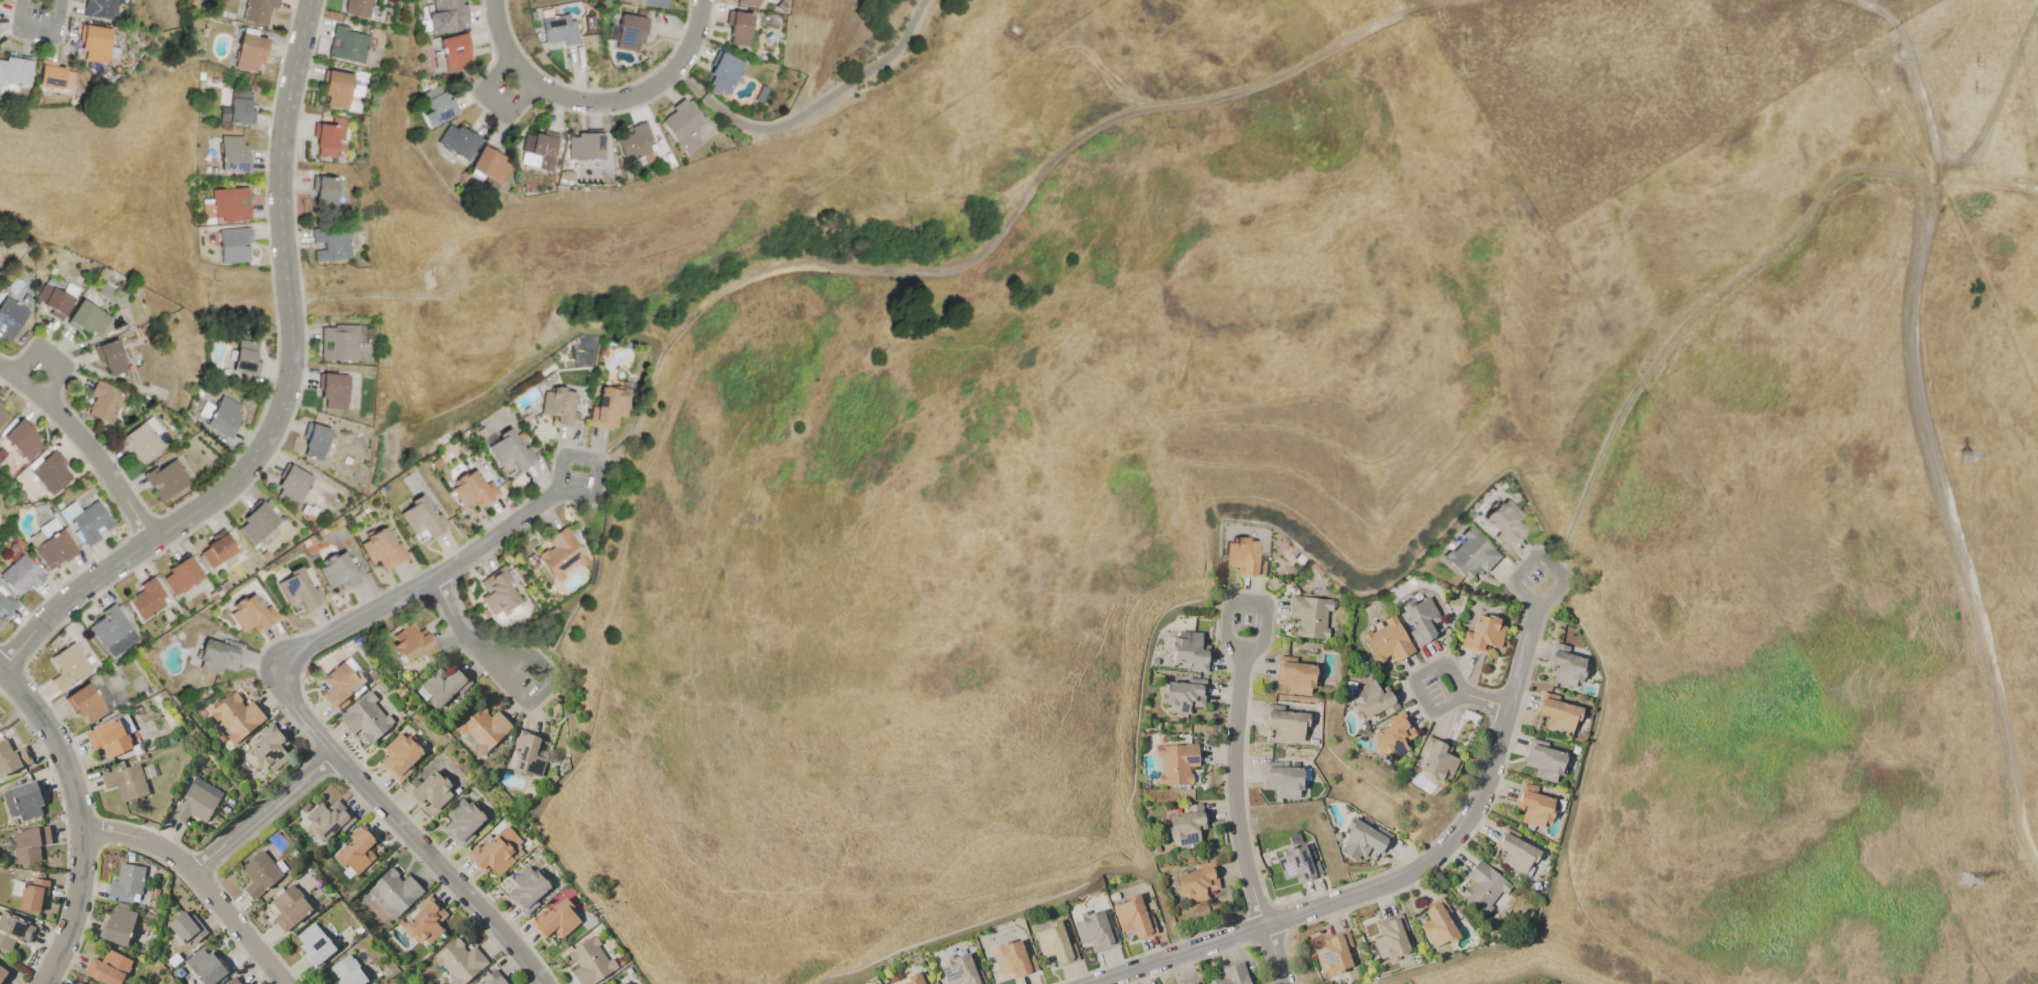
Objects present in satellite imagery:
road: (1433, 1)
building: (655, 3)
building: (748, 3)
building: (356, 7)
building: (100, 9)
building: (257, 10)
building: (446, 16)
building: (739, 29)
road: (38, 30)
building: (558, 30)
building: (629, 32)
building: (93, 43)
building: (348, 45)
building: (250, 52)
building: (454, 52)
power tower: (1979, 63)
building: (14, 71)
building: (723, 71)
road: (1917, 75)
building: (53, 76)
crop: (1637, 79)
building: (337, 88)
power tower: (1978, 91)
road: (598, 98)
road: (496, 102)
building: (240, 107)
road: (812, 107)
building: (438, 108)
building: (683, 126)
building: (330, 136)
building: (457, 141)
building: (634, 141)
building: (585, 146)
building: (539, 147)
building: (233, 153)
building: (489, 164)
road: (1990, 185)
building: (324, 196)
building: (227, 204)
road: (1017, 221)
building: (233, 244)
building: (330, 245)
building: (56, 300)
road: (1696, 315)
building: (10, 317)
building: (89, 318)
building: (339, 342)
road: (53, 357)
building: (112, 358)
building: (246, 358)
building: (333, 391)
road: (285, 397)
building: (104, 402)
building: (1, 404)
building: (610, 405)
building: (560, 407)
building: (2, 416)
building: (221, 416)
road: (1930, 426)
building: (22, 439)
building: (315, 440)
road: (87, 442)
building: (141, 442)
building: (508, 450)
power tower: (1966, 457)
road: (606, 466)
building: (51, 473)
building: (167, 479)
building: (291, 485)
building: (473, 490)
building: (421, 518)
building: (88, 521)
building: (257, 523)
building: (1505, 523)
building: (49, 528)
building: (54, 549)
building: (382, 549)
building: (217, 550)
building: (561, 554)
building: (1470, 555)
road: (1540, 556)
building: (1244, 557)
building: (340, 571)
building: (20, 575)
building: (181, 576)
building: (299, 591)
building: (498, 593)
building: (147, 599)
road: (1248, 603)
building: (5, 605)
building: (251, 614)
building: (1311, 615)
building: (1422, 620)
building: (112, 631)
building: (1482, 634)
building: (1386, 641)
building: (412, 643)
building: (1189, 650)
building: (219, 656)
building: (1564, 665)
building: (68, 666)
road: (0, 670)
building: (1293, 674)
road: (1416, 681)
building: (342, 684)
building: (439, 686)
road: (512, 688)
building: (1183, 695)
road: (1485, 698)
building: (1372, 699)
building: (86, 703)
road: (295, 709)
building: (1556, 714)
building: (235, 716)
building: (0, 717)
building: (364, 718)
building: (1286, 721)
building: (482, 727)
building: (110, 736)
building: (1393, 736)
building: (269, 748)
building: (527, 754)
building: (398, 756)
building: (11, 757)
building: (1543, 760)
building: (1436, 761)
building: (1175, 762)
building: (1281, 779)
building: (125, 782)
road: (1235, 789)
building: (427, 790)
building: (26, 799)
building: (195, 801)
building: (1533, 805)
road: (264, 814)
road: (80, 818)
building: (326, 818)
building: (461, 822)
road: (1462, 822)
building: (1188, 828)
building: (1360, 840)
building: (28, 843)
building: (355, 850)
building: (495, 851)
building: (1515, 852)
building: (1297, 862)
building: (258, 873)
road: (200, 879)
power tower: (1963, 879)
building: (1196, 881)
building: (125, 883)
building: (1482, 887)
building: (526, 889)
building: (393, 892)
building: (31, 894)
building: (288, 907)
building: (1131, 916)
building: (425, 920)
building: (555, 920)
building: (117, 924)
building: (1436, 924)
building: (184, 928)
building: (12, 931)
building: (1094, 931)
building: (1389, 936)
building: (312, 943)
building: (1053, 943)
building: (1333, 953)
road: (1180, 954)
road: (1273, 954)
building: (1011, 959)
building: (458, 961)
building: (588, 962)
building: (203, 965)
building: (107, 968)
building: (345, 971)
building: (960, 971)
building: (2, 974)
building: (1231, 975)
building: (492, 978)
building: (912, 979)
building: (230, 981)
building: (1190, 982)
building: (619, 983)

